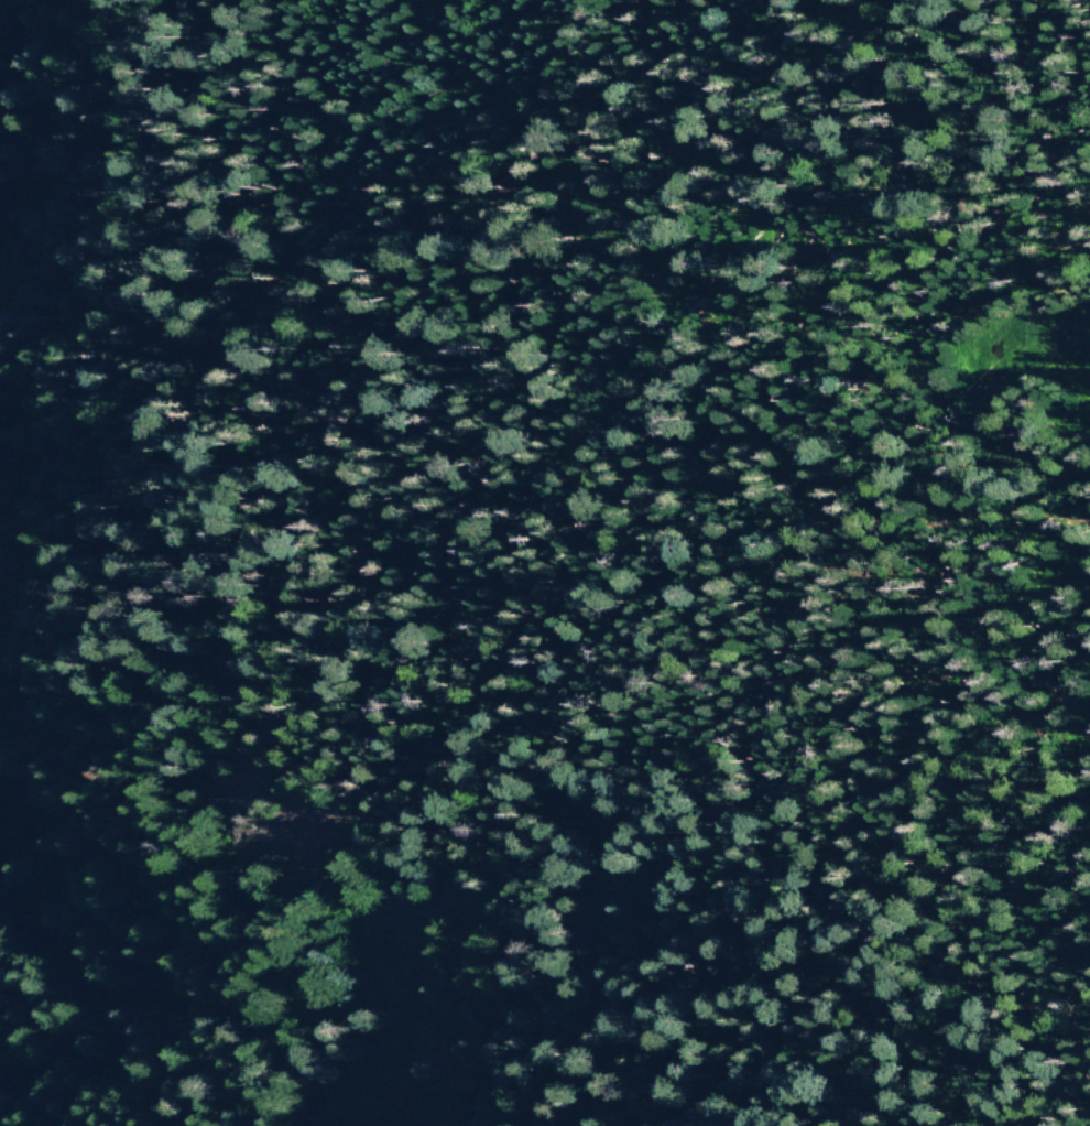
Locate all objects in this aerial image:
road: (998, 478)
road: (1039, 1030)

